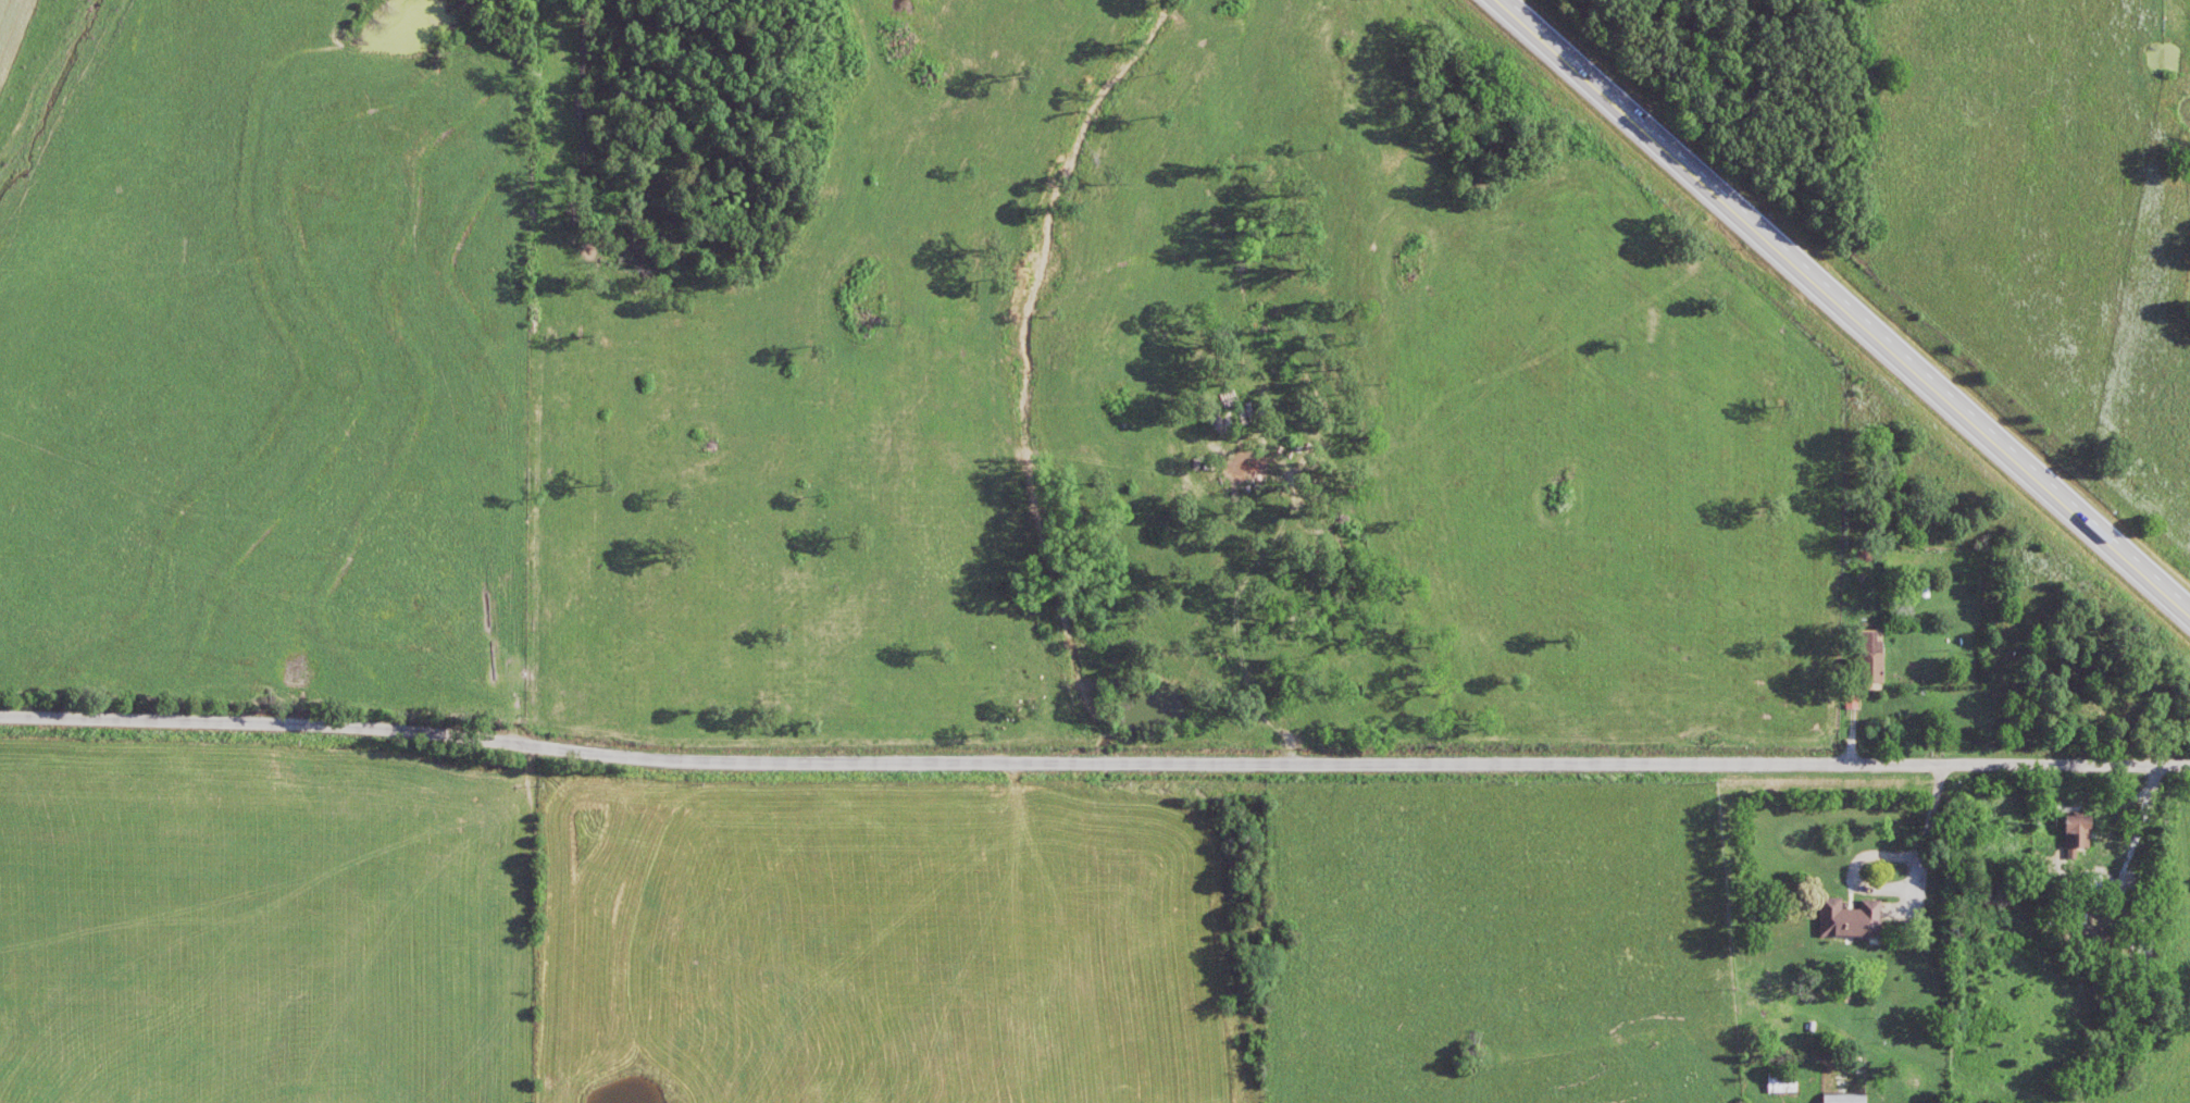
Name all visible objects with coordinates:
road: (1845, 305)
building: (1870, 664)
road: (1094, 759)
building: (2076, 839)
building: (1854, 924)
building: (1781, 1087)
building: (1843, 1102)

